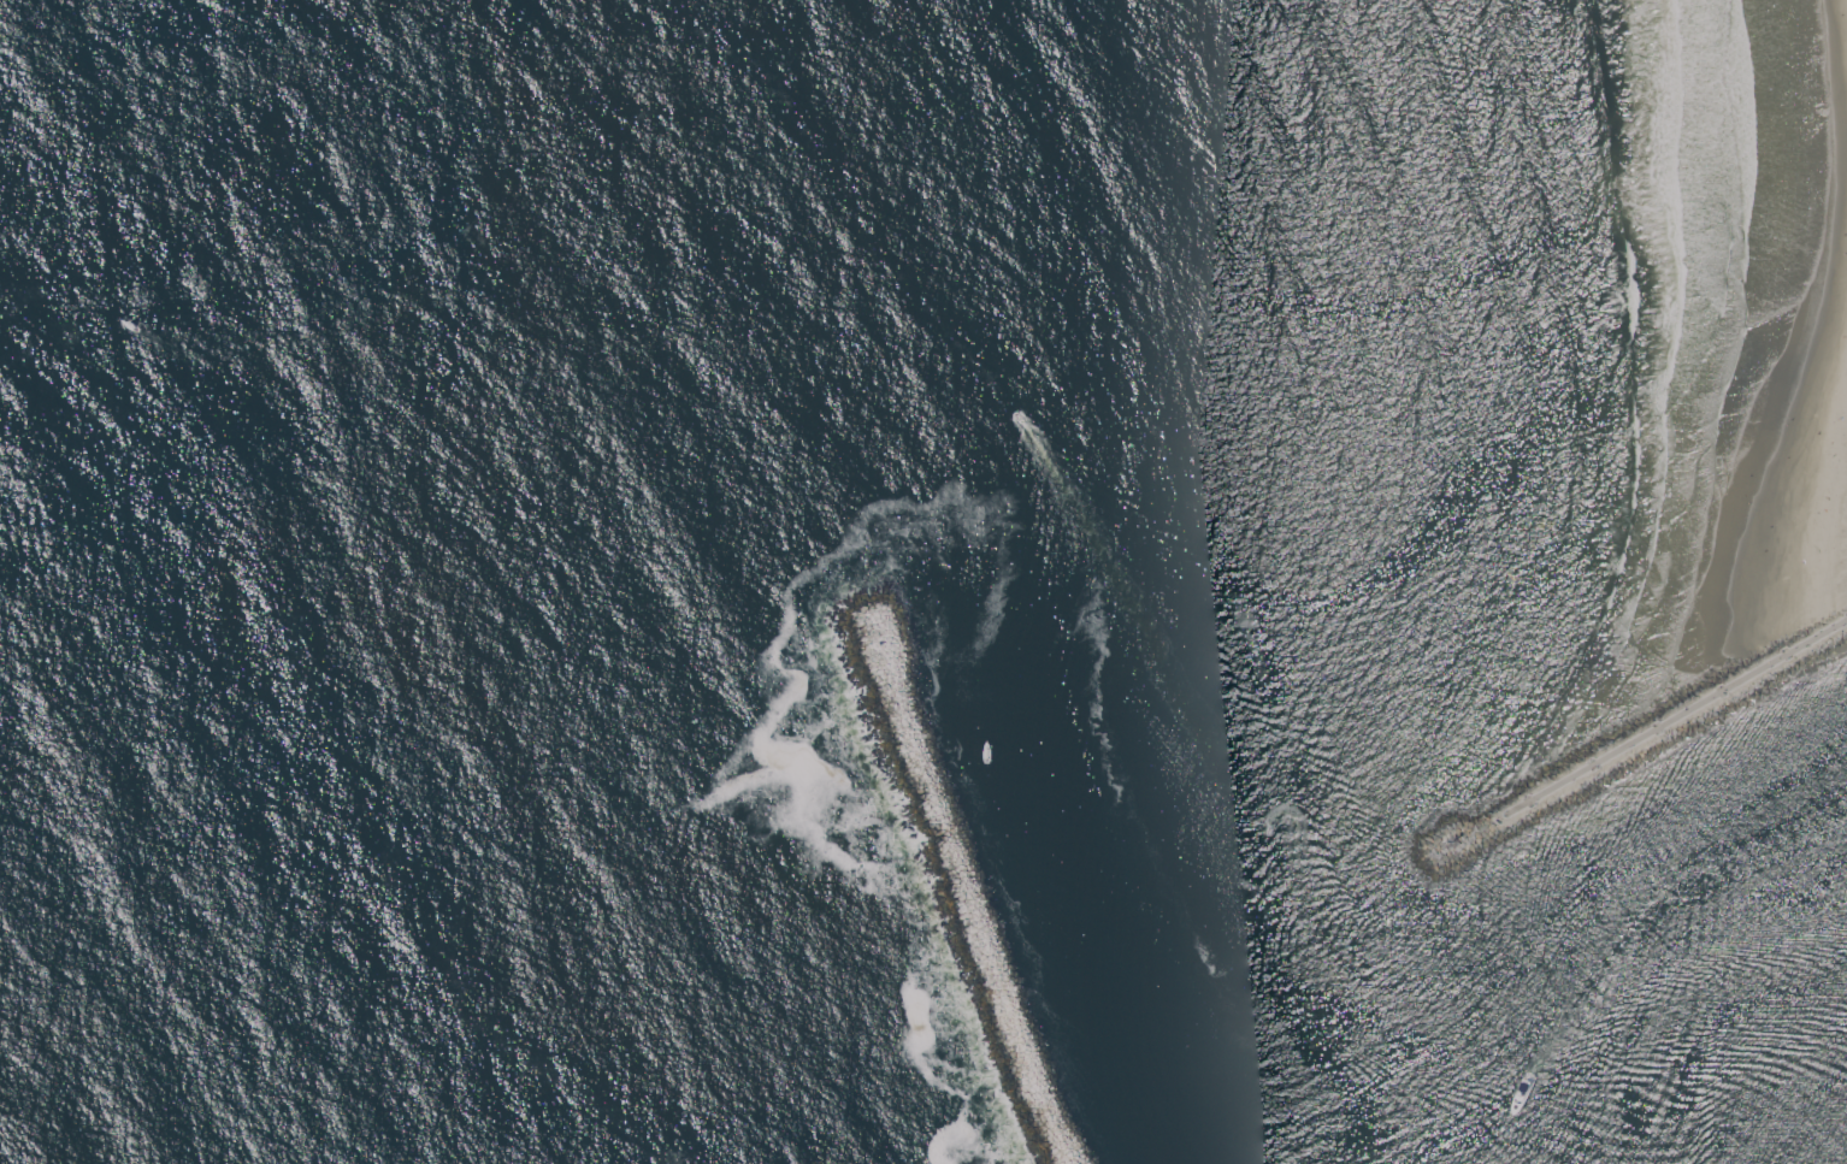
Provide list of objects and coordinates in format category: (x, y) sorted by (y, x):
road: (1677, 715)

